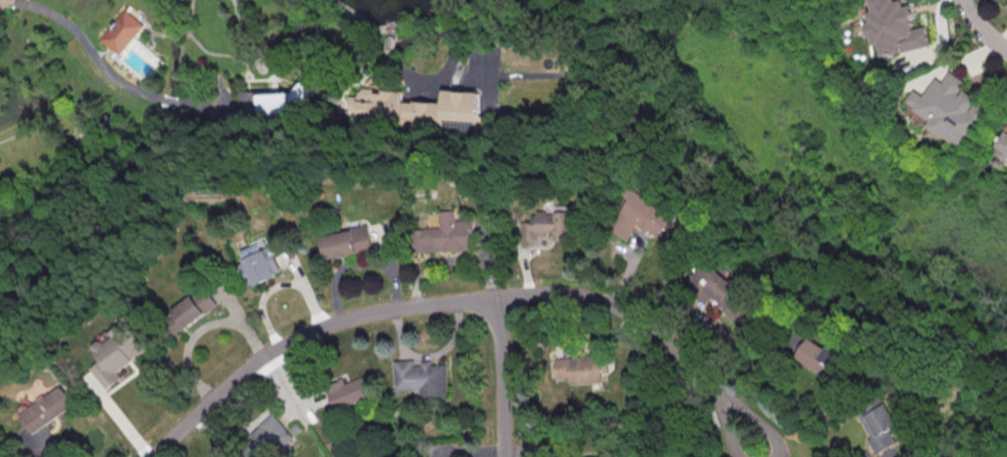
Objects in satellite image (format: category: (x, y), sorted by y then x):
road: (451, 12)
building: (894, 27)
road: (981, 28)
building: (121, 32)
road: (151, 32)
road: (170, 33)
road: (182, 33)
road: (452, 33)
road: (90, 49)
road: (250, 49)
road: (205, 51)
road: (103, 52)
road: (482, 61)
road: (448, 66)
road: (244, 76)
road: (511, 76)
road: (245, 81)
road: (460, 82)
road: (169, 101)
building: (271, 102)
road: (195, 106)
building: (415, 107)
building: (1001, 145)
building: (643, 216)
building: (544, 227)
building: (444, 234)
building: (349, 245)
building: (259, 261)
building: (718, 291)
building: (194, 307)
road: (655, 329)
road: (307, 337)
building: (117, 353)
building: (818, 358)
building: (577, 368)
building: (421, 377)
road: (501, 377)
building: (348, 393)
building: (48, 408)
building: (882, 431)
building: (270, 434)

